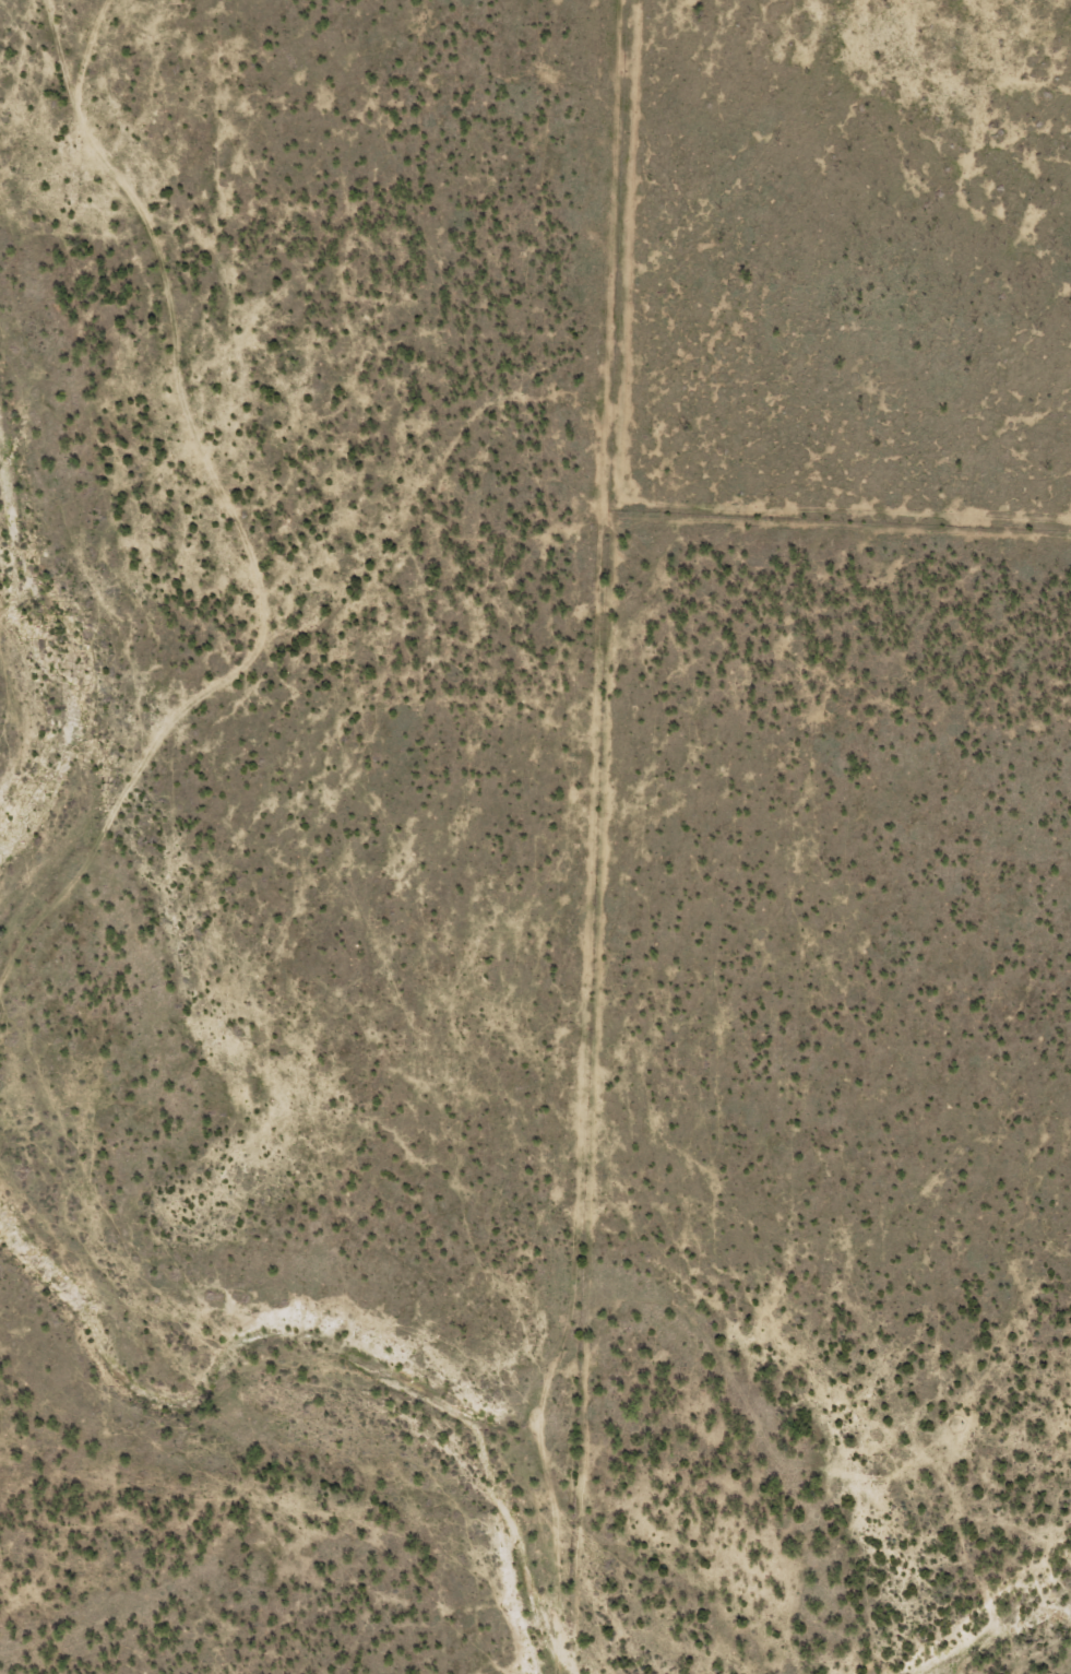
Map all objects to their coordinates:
road: (274, 553)

